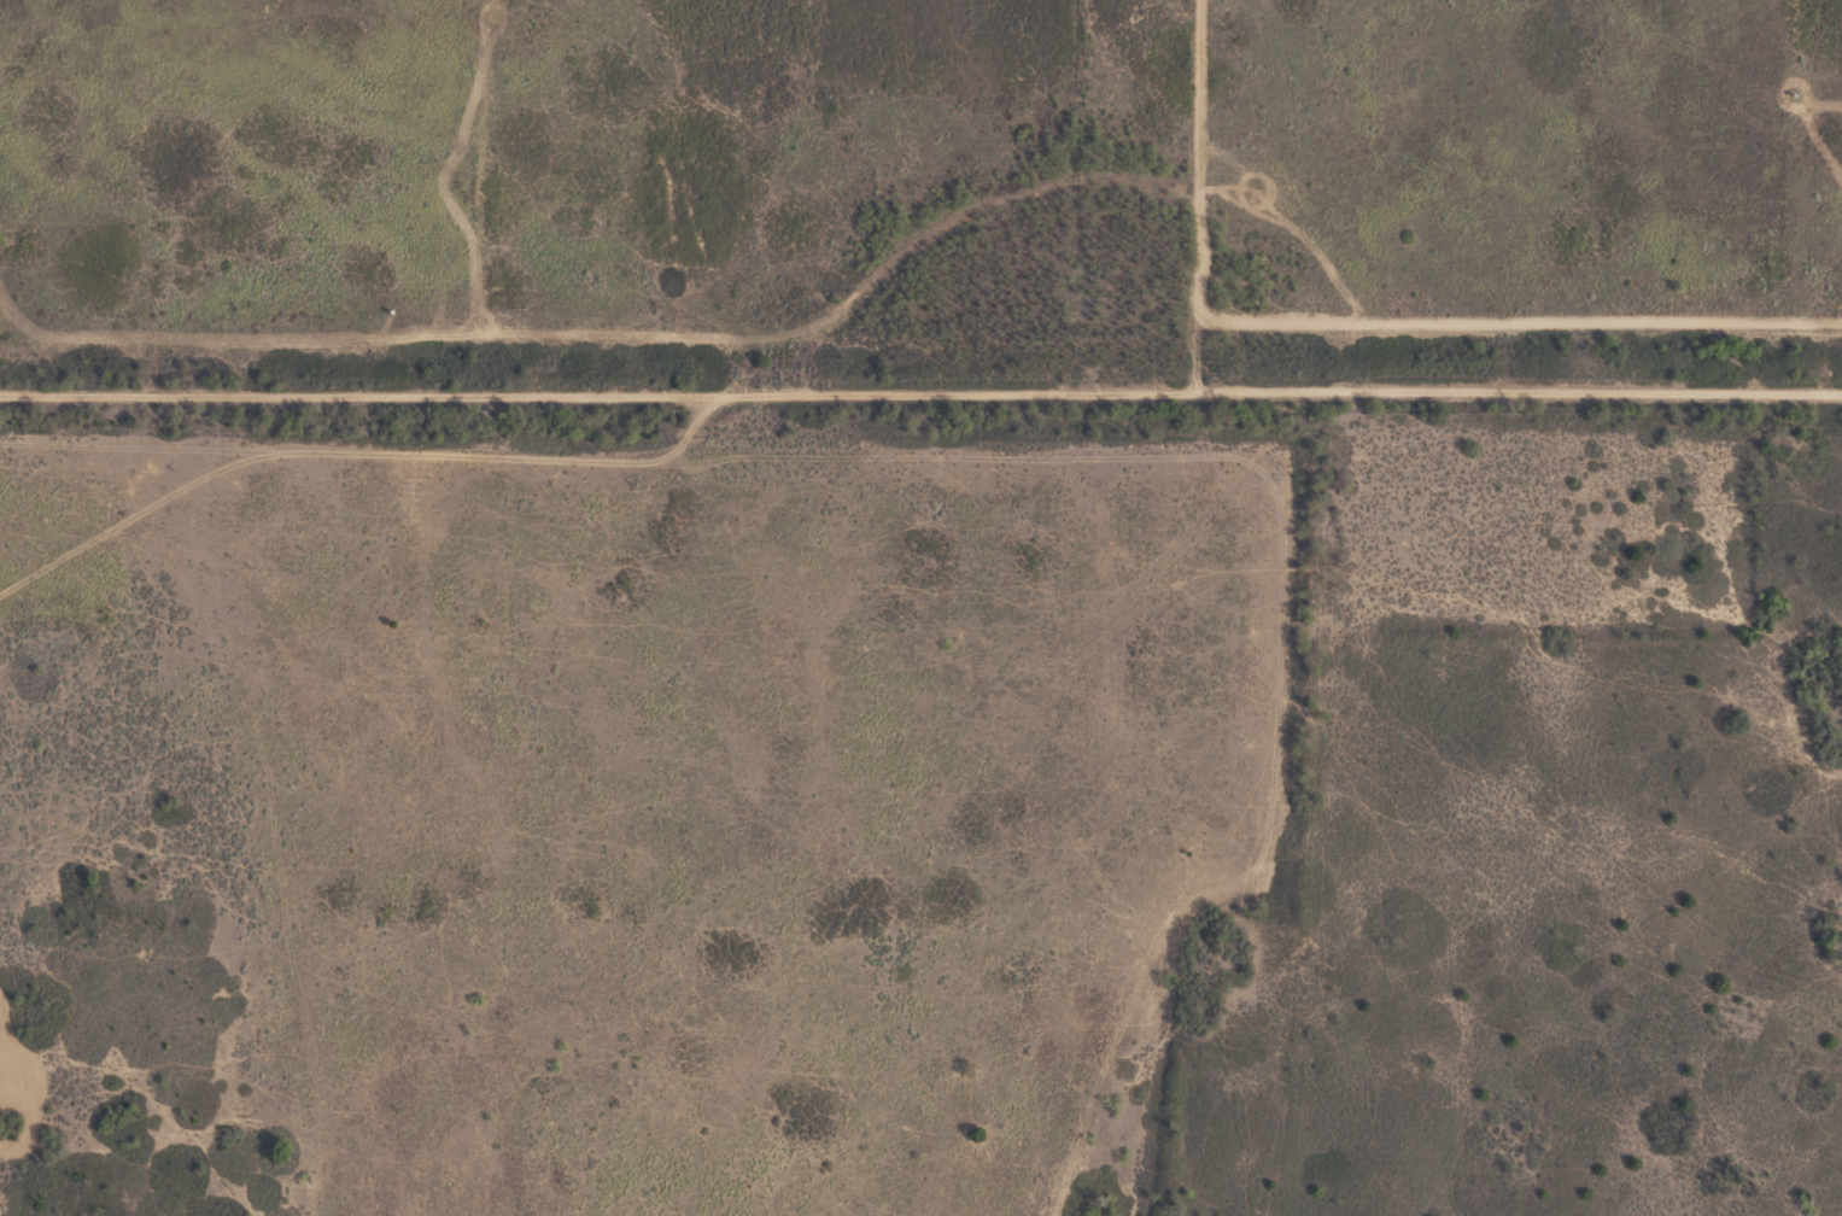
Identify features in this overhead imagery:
road: (920, 396)
crop: (932, 1036)

